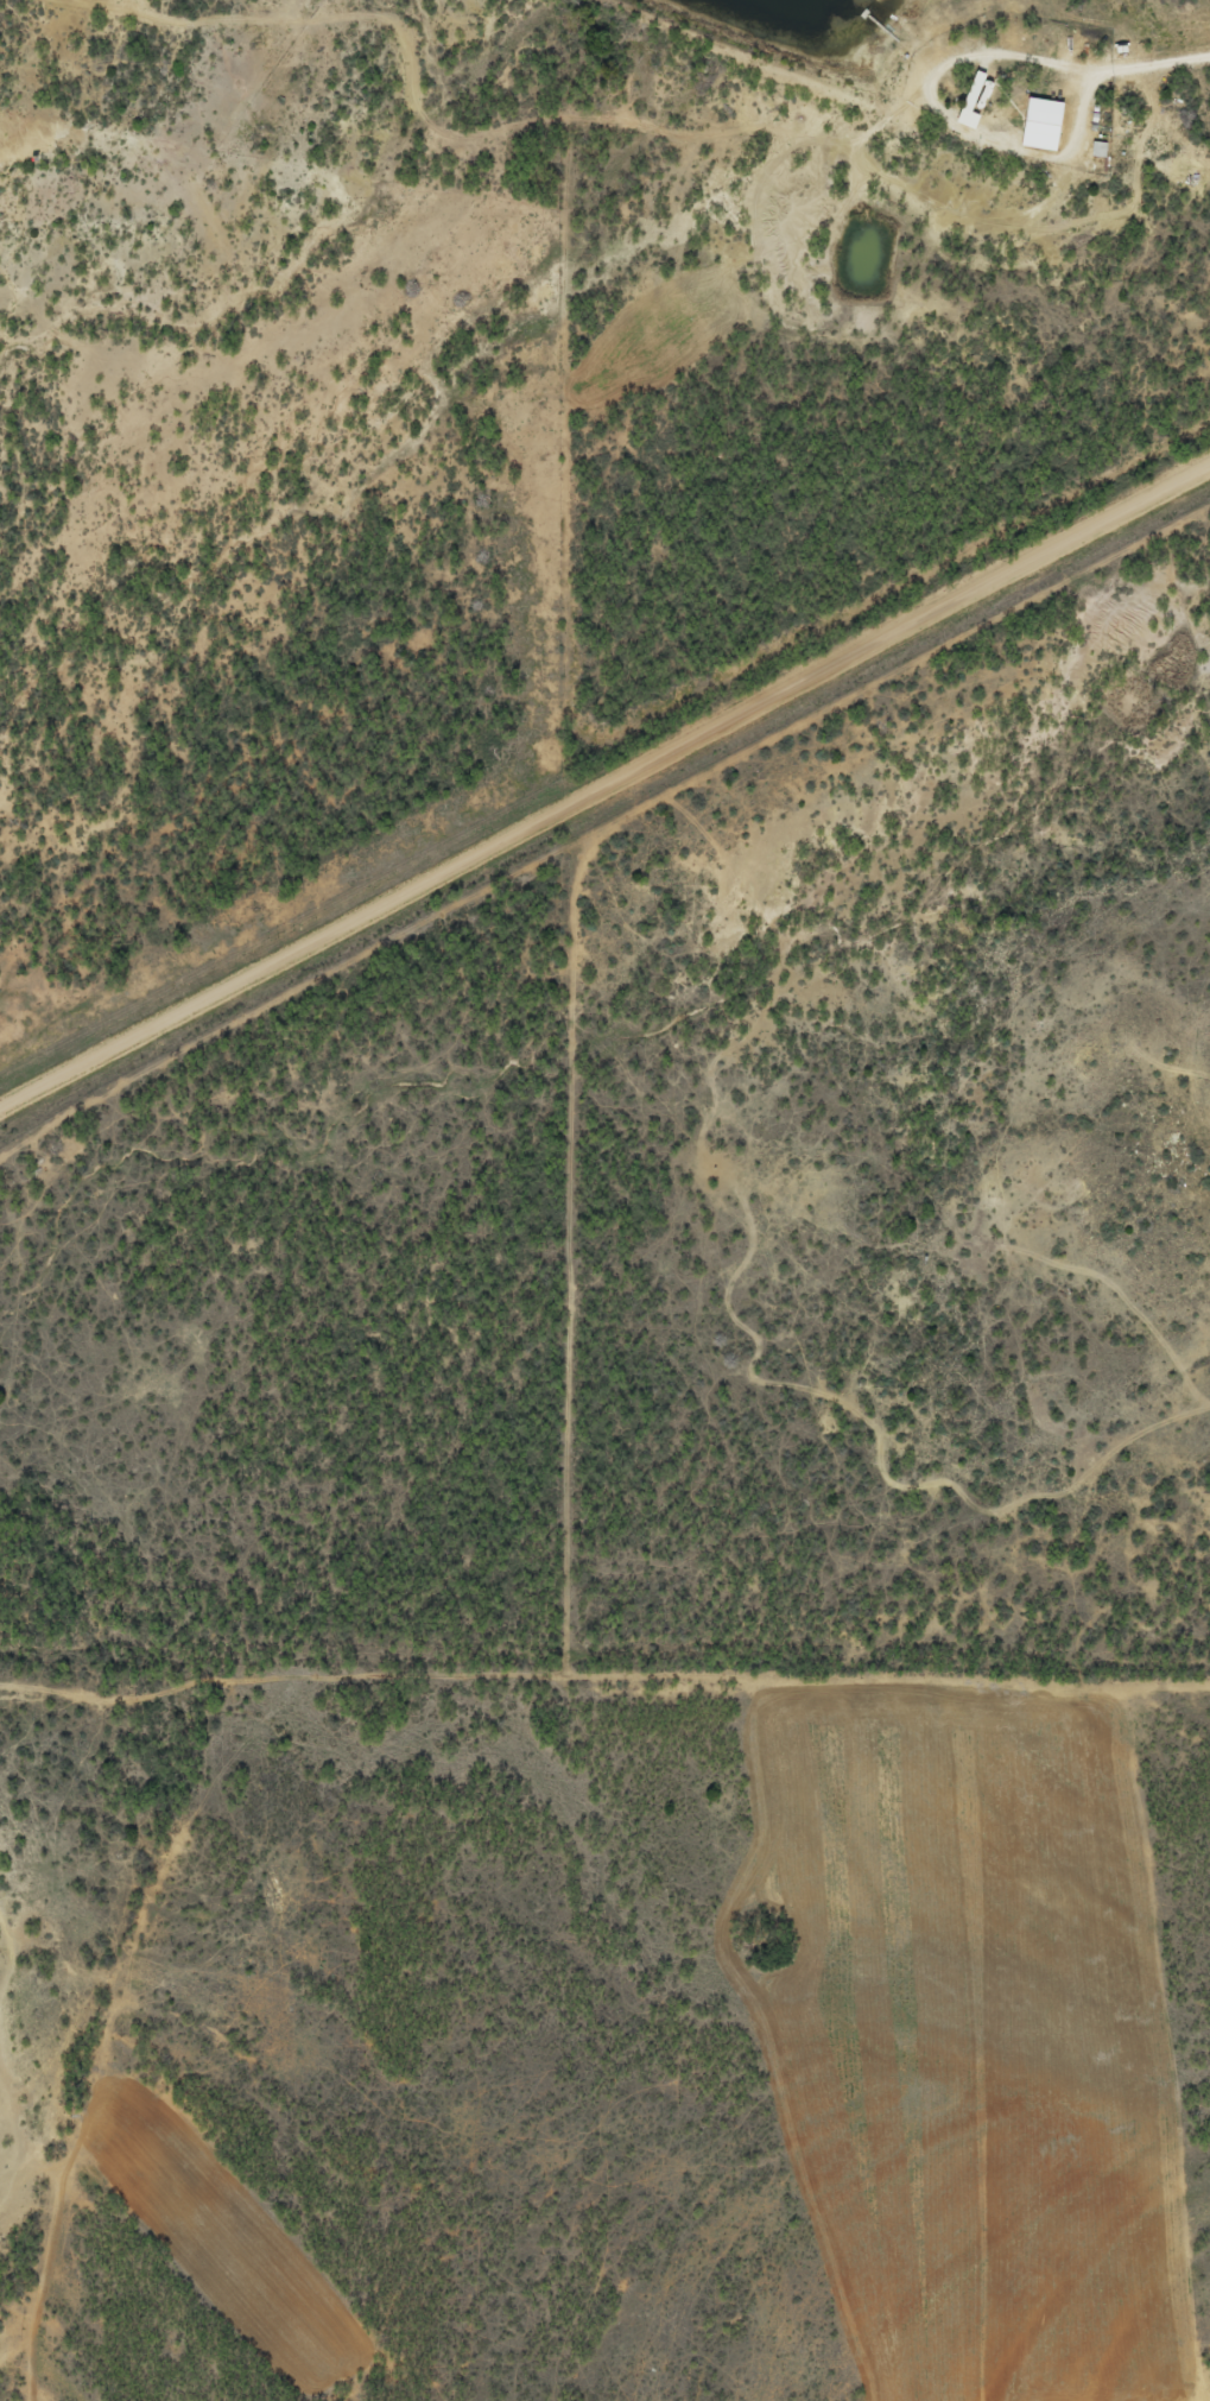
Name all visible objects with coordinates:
road: (1187, 17)
building: (969, 96)
building: (1032, 124)
road: (604, 784)

